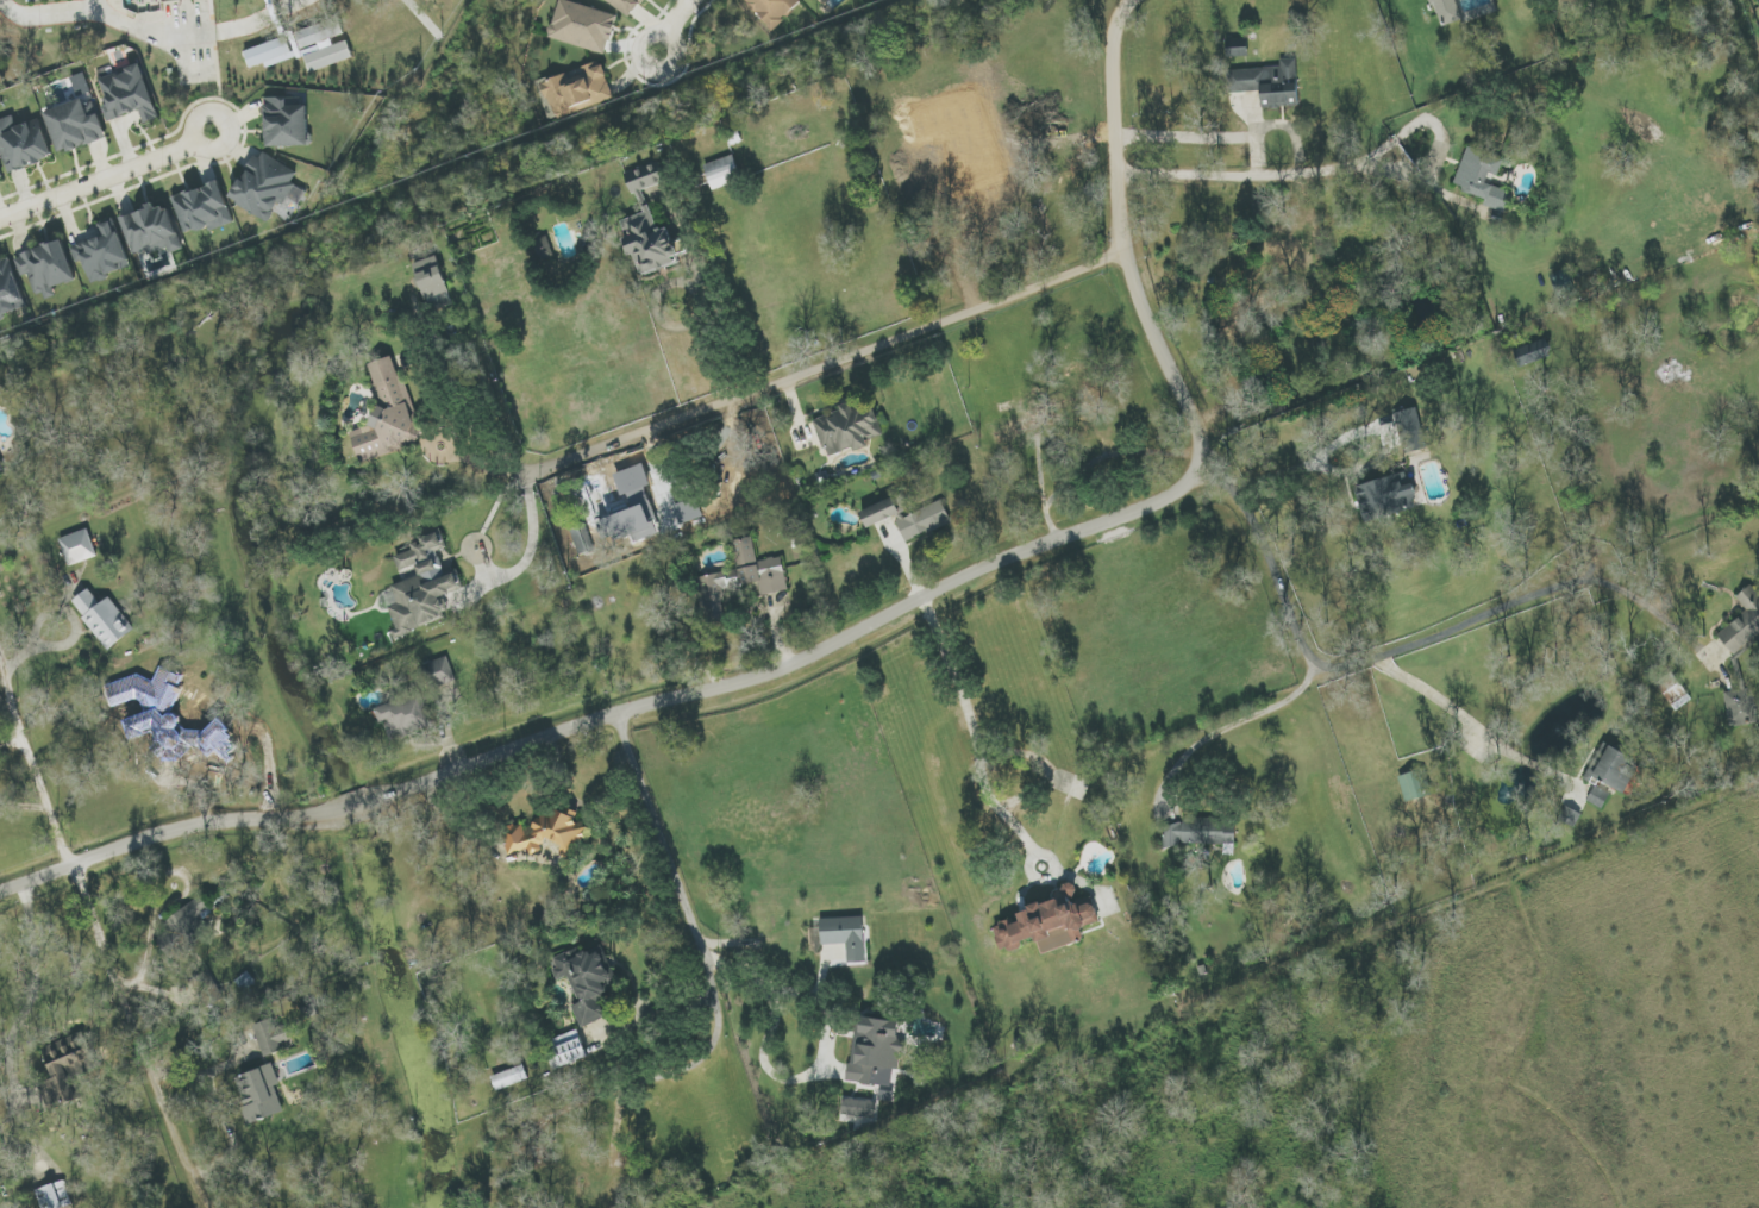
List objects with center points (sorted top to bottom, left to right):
building: (626, 6)
building: (774, 10)
building: (1446, 12)
road: (52, 14)
road: (677, 24)
building: (583, 26)
road: (199, 33)
building: (1267, 83)
building: (577, 89)
building: (120, 93)
building: (75, 115)
building: (288, 115)
road: (1275, 124)
building: (24, 143)
building: (722, 173)
building: (2, 174)
road: (1273, 175)
road: (105, 176)
building: (646, 177)
building: (1482, 179)
building: (264, 187)
street lamp: (55, 198)
building: (206, 220)
building: (154, 236)
building: (649, 243)
building: (105, 257)
building: (1282, 258)
building: (51, 278)
building: (1257, 281)
building: (433, 282)
building: (10, 290)
building: (1533, 352)
road: (828, 364)
building: (388, 414)
building: (846, 430)
road: (1350, 434)
road: (456, 453)
building: (0, 471)
building: (1385, 497)
building: (633, 508)
building: (881, 512)
building: (924, 521)
building: (79, 547)
road: (528, 553)
road: (1273, 559)
building: (741, 580)
building: (420, 587)
road: (1640, 606)
building: (104, 619)
building: (1744, 625)
road: (844, 637)
road: (1346, 659)
building: (440, 672)
building: (1741, 707)
building: (406, 715)
road: (1470, 726)
road: (972, 733)
building: (1611, 769)
building: (1410, 787)
building: (1198, 833)
building: (545, 834)
road: (665, 855)
building: (1050, 922)
building: (187, 925)
road: (95, 928)
building: (845, 935)
building: (587, 982)
road: (768, 987)
road: (32, 995)
road: (407, 1006)
building: (274, 1037)
building: (566, 1050)
building: (876, 1053)
building: (64, 1071)
building: (509, 1078)
building: (259, 1094)
building: (859, 1110)
building: (54, 1196)

